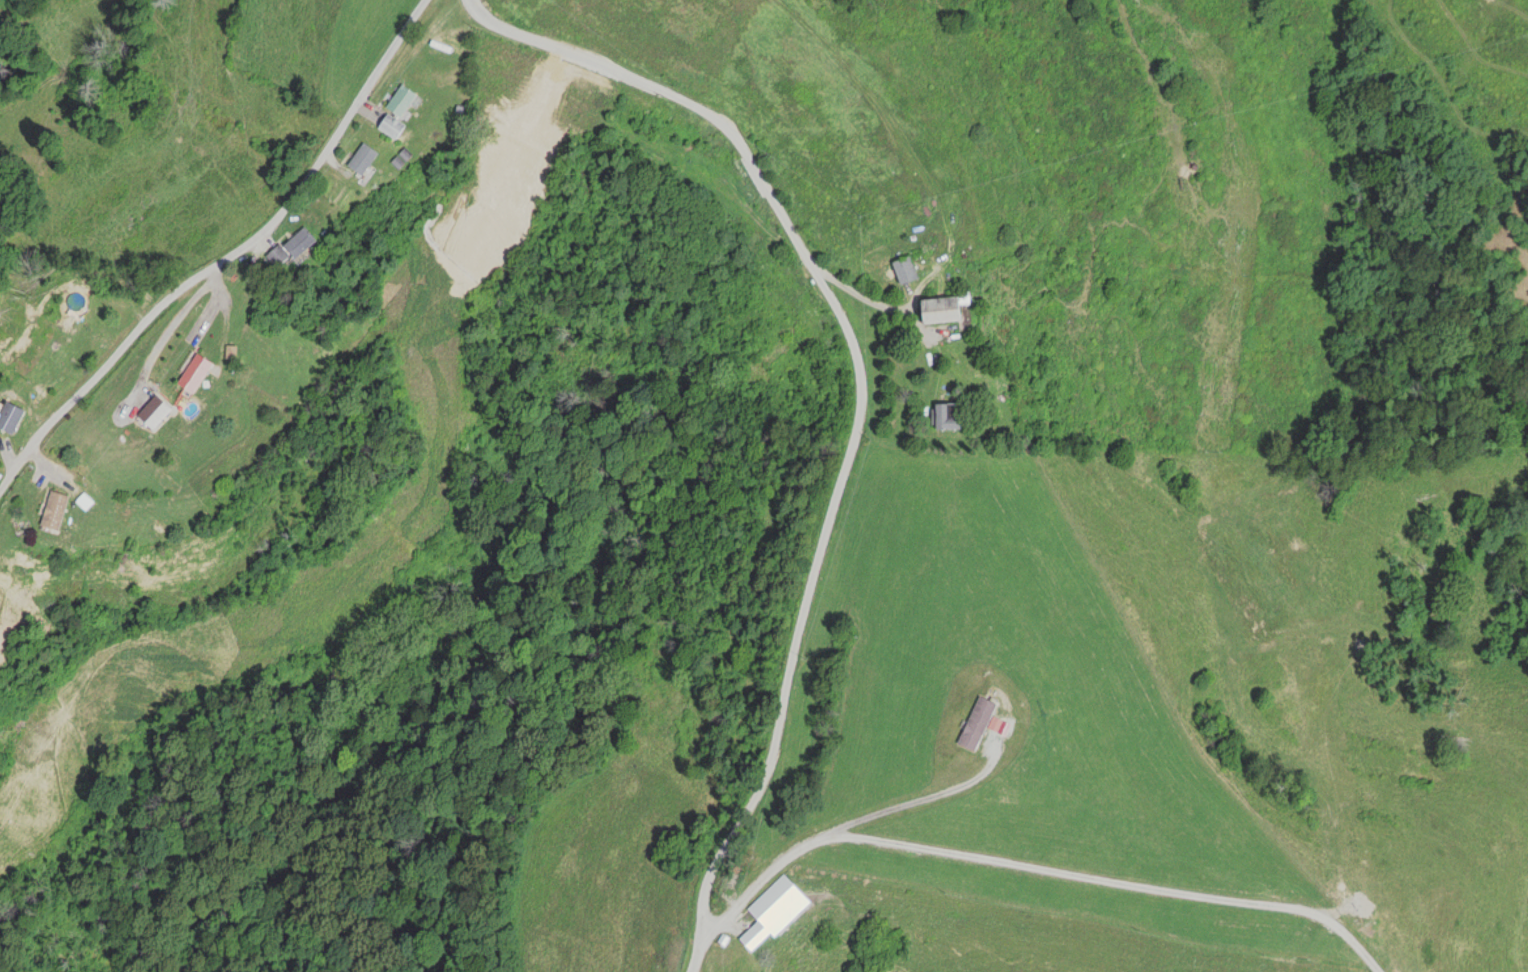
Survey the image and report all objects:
building: (398, 102)
building: (388, 127)
building: (359, 160)
building: (291, 247)
road: (232, 252)
building: (902, 272)
building: (938, 311)
building: (191, 375)
road: (856, 402)
building: (945, 417)
building: (9, 419)
building: (52, 512)
building: (975, 726)
road: (1025, 868)

